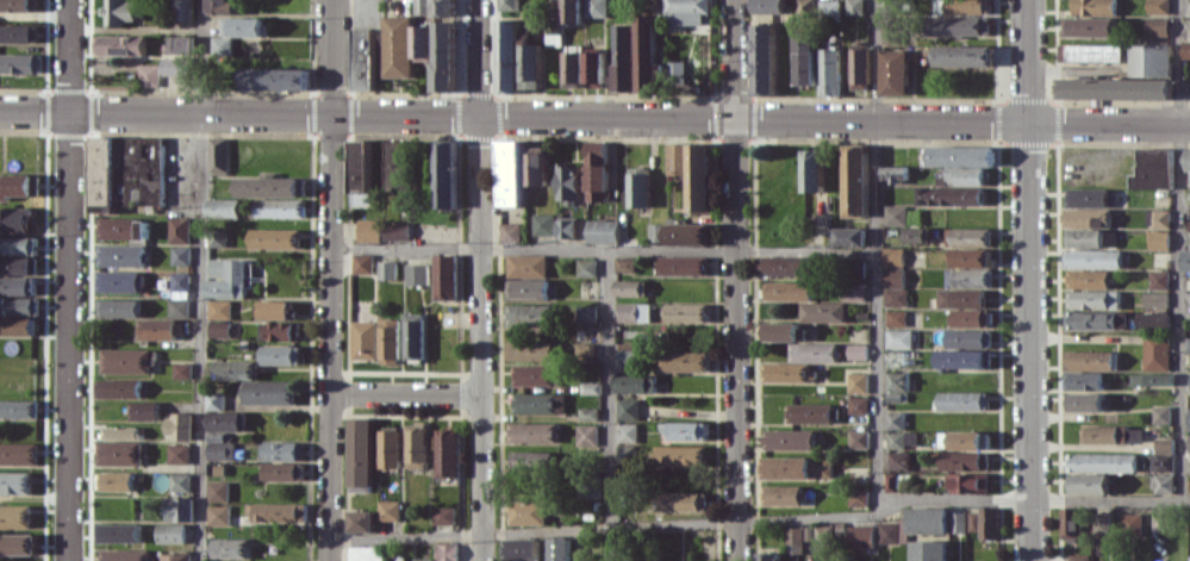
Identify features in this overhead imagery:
building: (17, 5)
building: (507, 5)
building: (219, 6)
building: (770, 6)
building: (805, 6)
building: (854, 6)
building: (1092, 6)
building: (1158, 6)
building: (442, 7)
building: (594, 8)
building: (828, 8)
building: (182, 10)
building: (572, 11)
building: (685, 11)
building: (117, 12)
building: (959, 24)
building: (1090, 25)
building: (1157, 25)
building: (554, 26)
building: (17, 32)
building: (235, 32)
building: (420, 42)
building: (179, 43)
building: (117, 44)
building: (395, 45)
building: (1186, 46)
building: (646, 52)
building: (1094, 52)
building: (443, 55)
building: (507, 55)
building: (964, 55)
building: (622, 56)
building: (361, 57)
building: (804, 57)
building: (764, 58)
building: (1151, 60)
building: (19, 62)
building: (176, 66)
building: (530, 66)
building: (858, 68)
building: (572, 69)
building: (592, 69)
building: (828, 71)
building: (895, 71)
road: (1072, 71)
building: (147, 74)
building: (275, 77)
building: (1114, 88)
road: (594, 118)
building: (216, 154)
building: (961, 155)
building: (675, 157)
building: (1186, 158)
building: (393, 164)
building: (534, 166)
building: (1152, 168)
building: (812, 169)
building: (124, 170)
building: (359, 170)
building: (594, 170)
building: (509, 172)
building: (893, 172)
building: (443, 173)
building: (964, 175)
building: (699, 176)
building: (566, 180)
building: (855, 180)
building: (17, 185)
building: (268, 186)
building: (637, 186)
building: (949, 194)
building: (1086, 197)
building: (220, 207)
building: (278, 207)
building: (893, 214)
building: (1160, 217)
building: (13, 219)
building: (541, 223)
building: (120, 227)
building: (565, 227)
building: (176, 229)
building: (367, 230)
building: (394, 230)
building: (602, 230)
building: (655, 231)
building: (509, 232)
building: (687, 233)
building: (918, 233)
building: (967, 235)
building: (848, 236)
building: (214, 237)
building: (272, 237)
building: (1091, 237)
building: (1158, 239)
building: (17, 244)
road: (530, 248)
road: (1177, 249)
road: (803, 250)
building: (1188, 253)
building: (119, 255)
building: (177, 255)
road: (873, 256)
building: (891, 256)
building: (971, 257)
building: (1094, 257)
building: (360, 263)
building: (623, 263)
building: (17, 264)
building: (525, 264)
building: (681, 264)
building: (783, 264)
building: (585, 267)
building: (856, 268)
road: (329, 269)
building: (385, 269)
building: (415, 273)
building: (443, 276)
building: (224, 278)
building: (968, 278)
building: (1088, 278)
building: (1159, 279)
road: (67, 280)
road: (201, 280)
road: (478, 280)
road: (733, 280)
road: (1029, 280)
building: (118, 281)
building: (17, 285)
building: (893, 286)
building: (629, 287)
building: (525, 288)
building: (787, 289)
building: (854, 291)
building: (176, 293)
building: (960, 297)
building: (1154, 298)
building: (1092, 299)
building: (17, 305)
building: (114, 307)
building: (217, 308)
building: (272, 308)
building: (821, 311)
building: (631, 312)
building: (685, 312)
building: (529, 314)
building: (585, 317)
building: (895, 317)
building: (970, 317)
building: (1090, 319)
building: (1152, 319)
building: (14, 325)
building: (155, 328)
building: (217, 328)
building: (278, 330)
building: (780, 331)
building: (412, 335)
building: (968, 337)
building: (898, 338)
building: (362, 339)
building: (387, 341)
building: (1188, 343)
building: (529, 350)
building: (856, 350)
building: (1155, 350)
building: (812, 351)
building: (281, 354)
building: (624, 354)
building: (962, 357)
building: (1088, 360)
building: (124, 361)
building: (683, 361)
building: (179, 369)
building: (232, 369)
building: (787, 372)
building: (534, 374)
building: (1152, 378)
building: (897, 380)
building: (1083, 380)
building: (856, 381)
building: (634, 384)
building: (1189, 385)
building: (114, 387)
road: (604, 387)
building: (267, 392)
road: (404, 395)
building: (212, 400)
building: (962, 400)
building: (1084, 401)
building: (537, 403)
building: (858, 404)
building: (17, 409)
building: (627, 409)
building: (142, 410)
building: (811, 412)
building: (587, 413)
building: (1160, 413)
building: (1188, 418)
building: (893, 419)
building: (224, 420)
building: (175, 425)
building: (683, 430)
building: (118, 431)
building: (532, 431)
building: (625, 431)
building: (1104, 434)
building: (1135, 434)
building: (586, 435)
building: (216, 436)
building: (787, 438)
building: (856, 438)
building: (899, 438)
building: (967, 440)
building: (1188, 442)
building: (1164, 444)
building: (415, 445)
building: (387, 448)
building: (218, 450)
building: (281, 450)
building: (444, 451)
building: (17, 453)
building: (117, 453)
building: (176, 453)
building: (624, 453)
building: (359, 454)
building: (679, 455)
building: (530, 460)
building: (898, 460)
building: (964, 460)
building: (1101, 461)
building: (1161, 462)
building: (797, 467)
building: (280, 470)
building: (113, 480)
building: (177, 481)
building: (889, 481)
building: (14, 482)
building: (968, 482)
building: (1088, 482)
building: (1163, 484)
building: (1189, 484)
building: (216, 490)
building: (781, 494)
building: (856, 495)
road: (1049, 495)
building: (683, 500)
road: (892, 505)
building: (177, 509)
building: (387, 510)
building: (273, 511)
building: (525, 512)
building: (216, 515)
building: (442, 515)
building: (14, 516)
building: (927, 519)
building: (359, 521)
building: (1070, 521)
building: (1159, 521)
building: (957, 522)
building: (984, 522)
building: (1101, 522)
building: (1130, 522)
road: (602, 526)
building: (117, 531)
building: (892, 531)
building: (169, 532)
building: (823, 534)
building: (860, 535)
building: (797, 537)
building: (17, 543)
building: (229, 548)
building: (557, 548)
building: (519, 549)
road: (329, 550)
building: (928, 550)
building: (446, 551)
building: (363, 553)
building: (123, 554)
building: (172, 555)
building: (768, 556)
building: (1078, 556)
building: (422, 559)

